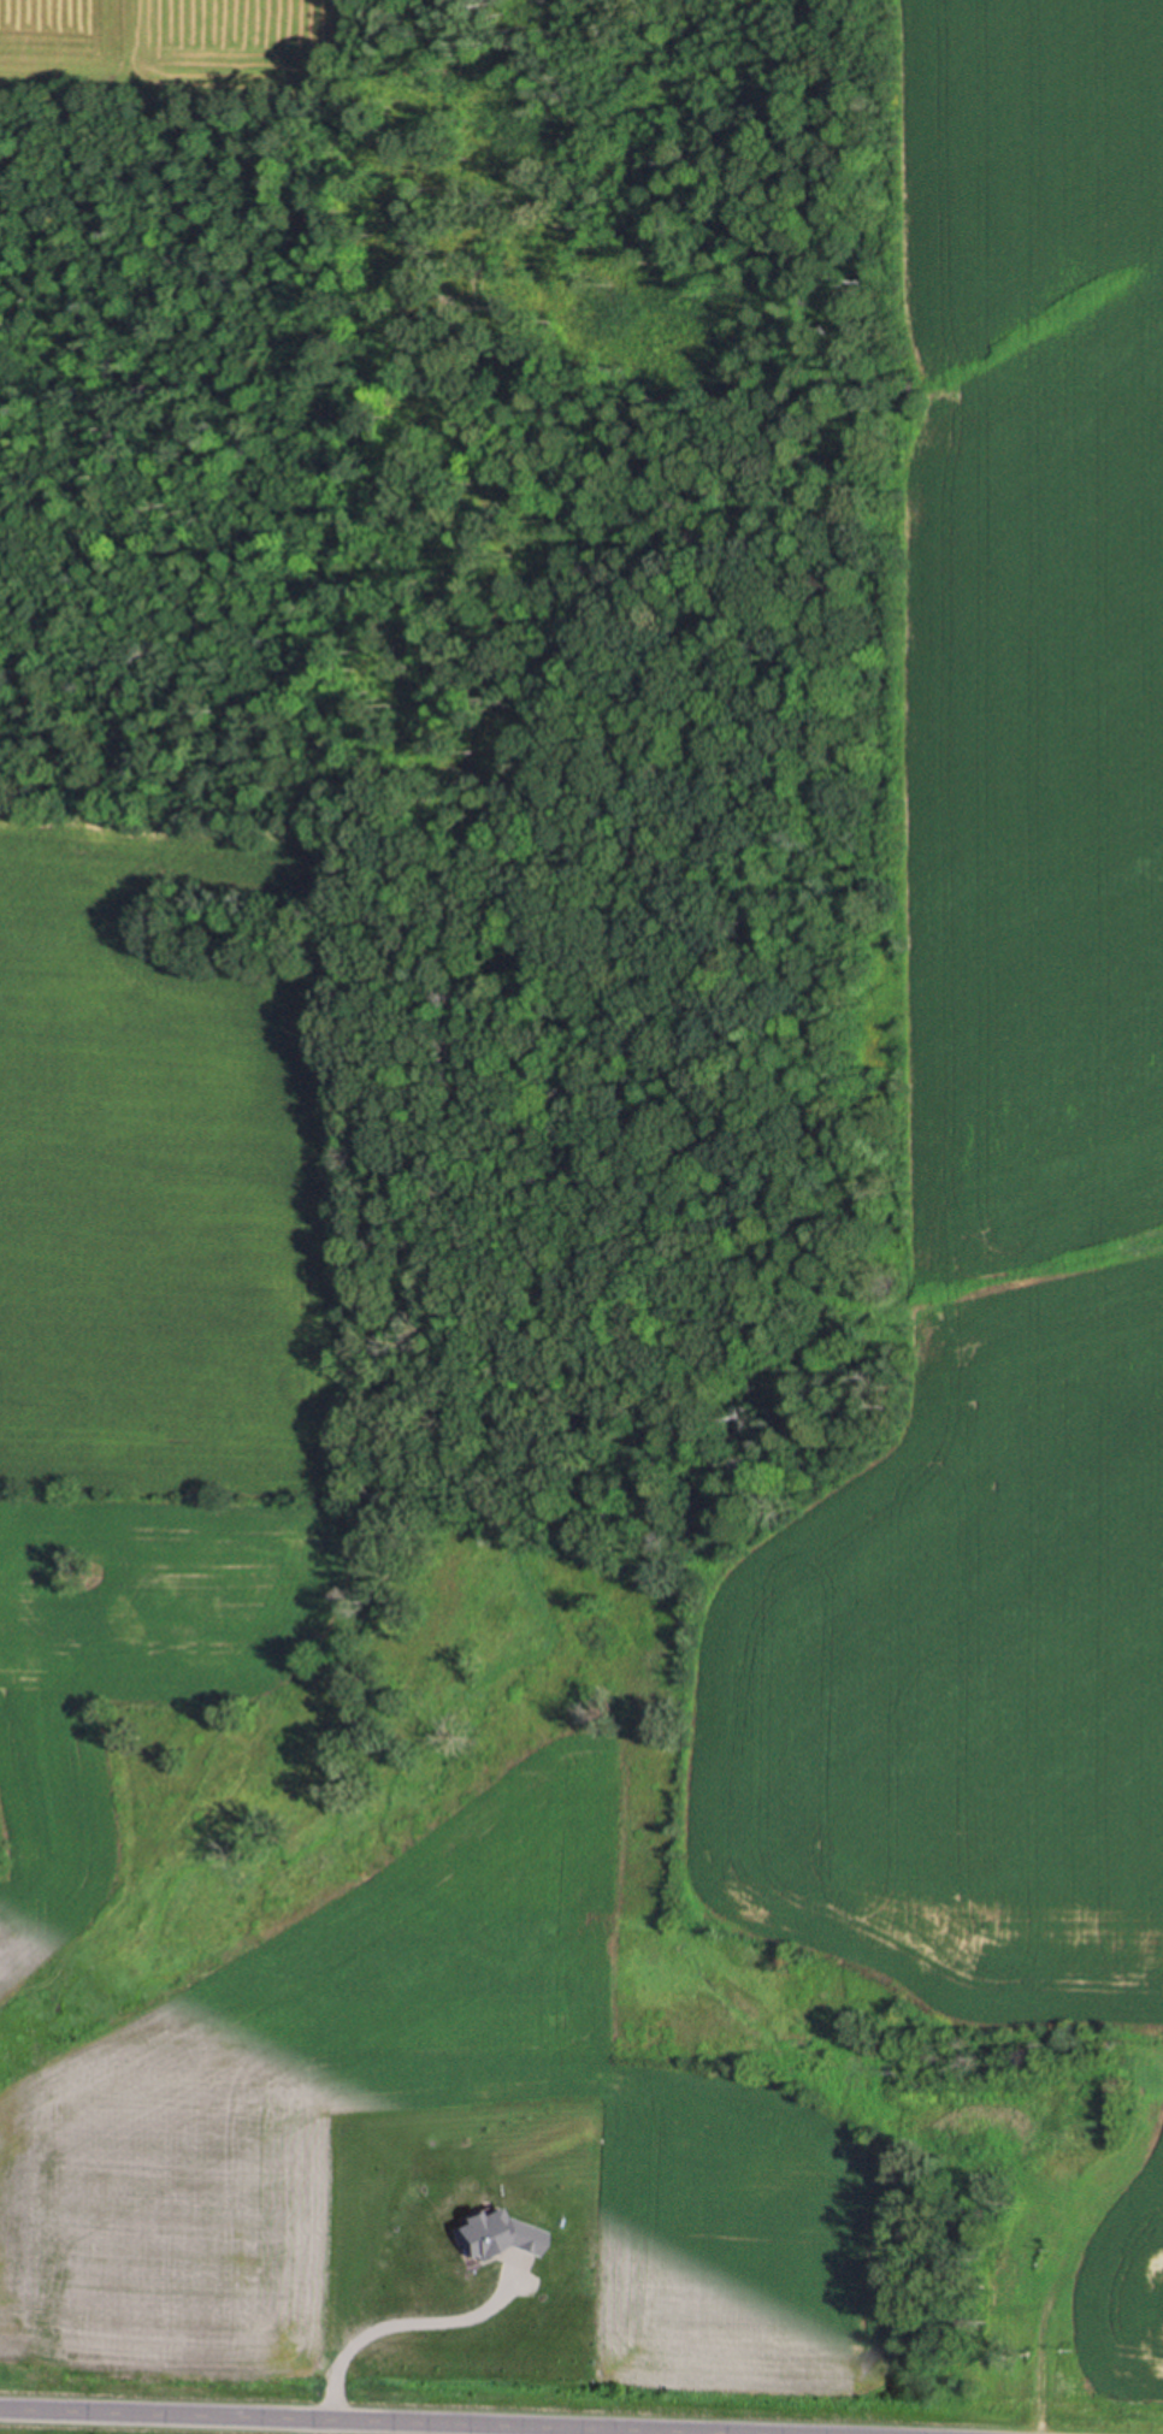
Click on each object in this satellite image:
building: (999, 2287)
road: (349, 2421)

